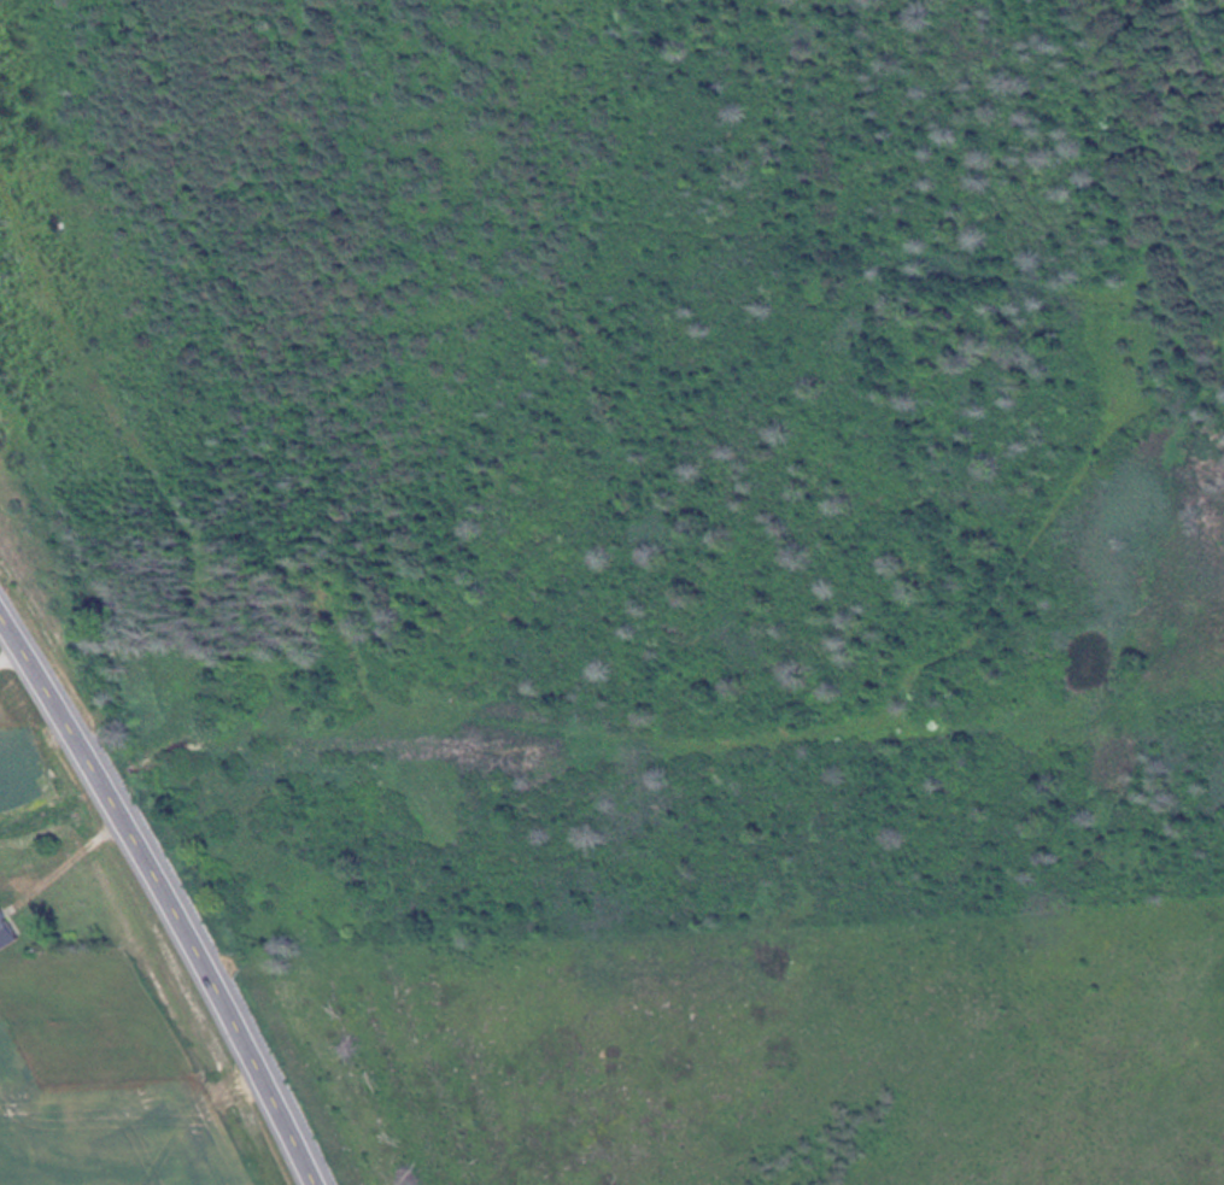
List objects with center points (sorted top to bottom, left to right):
road: (166, 891)
building: (11, 928)

